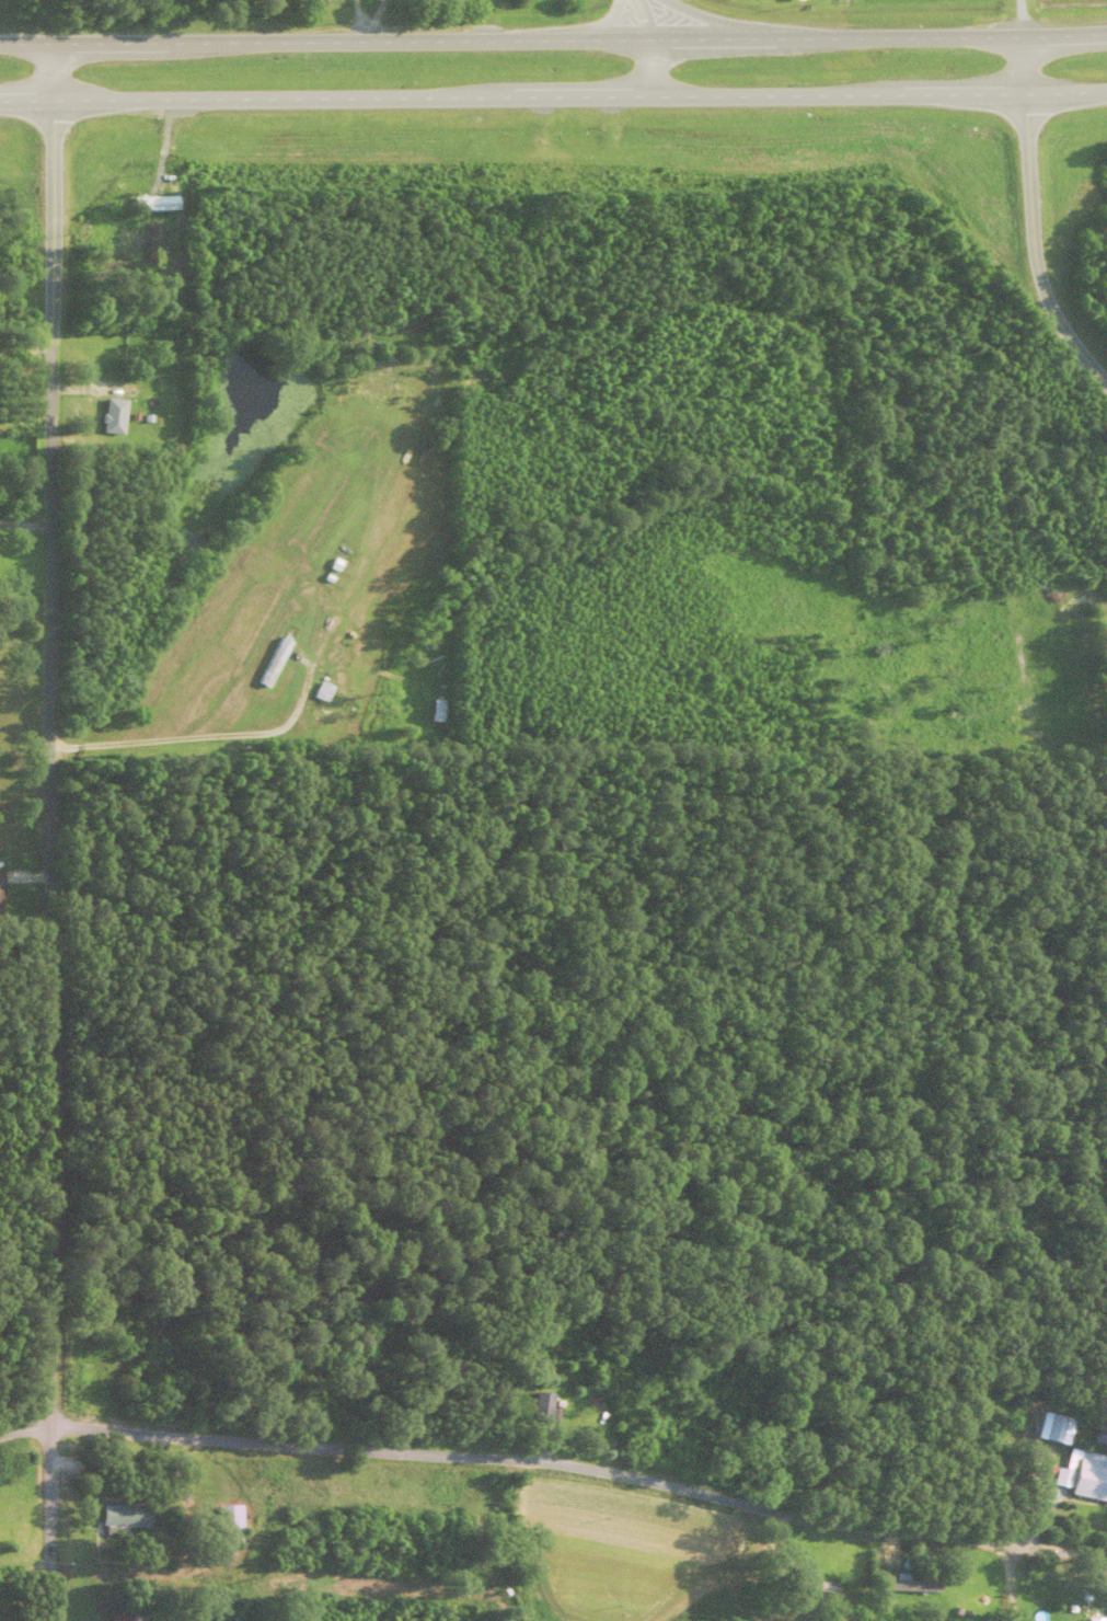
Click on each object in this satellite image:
road: (1019, 19)
road: (553, 39)
road: (647, 47)
road: (553, 97)
road: (1028, 222)
road: (25, 353)
building: (116, 417)
building: (272, 665)
road: (55, 831)
building: (2, 894)
road: (27, 926)
building: (546, 1410)
road: (556, 1462)
building: (1086, 1479)
building: (128, 1518)
building: (231, 1524)
building: (808, 1584)
building: (131, 1617)

